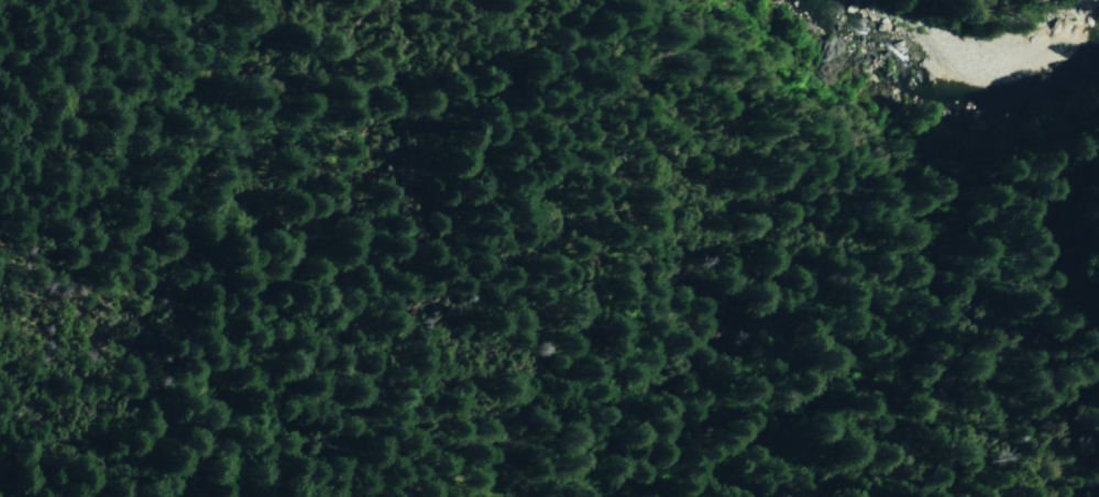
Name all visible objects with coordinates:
river: (872, 21)
river: (1016, 37)

